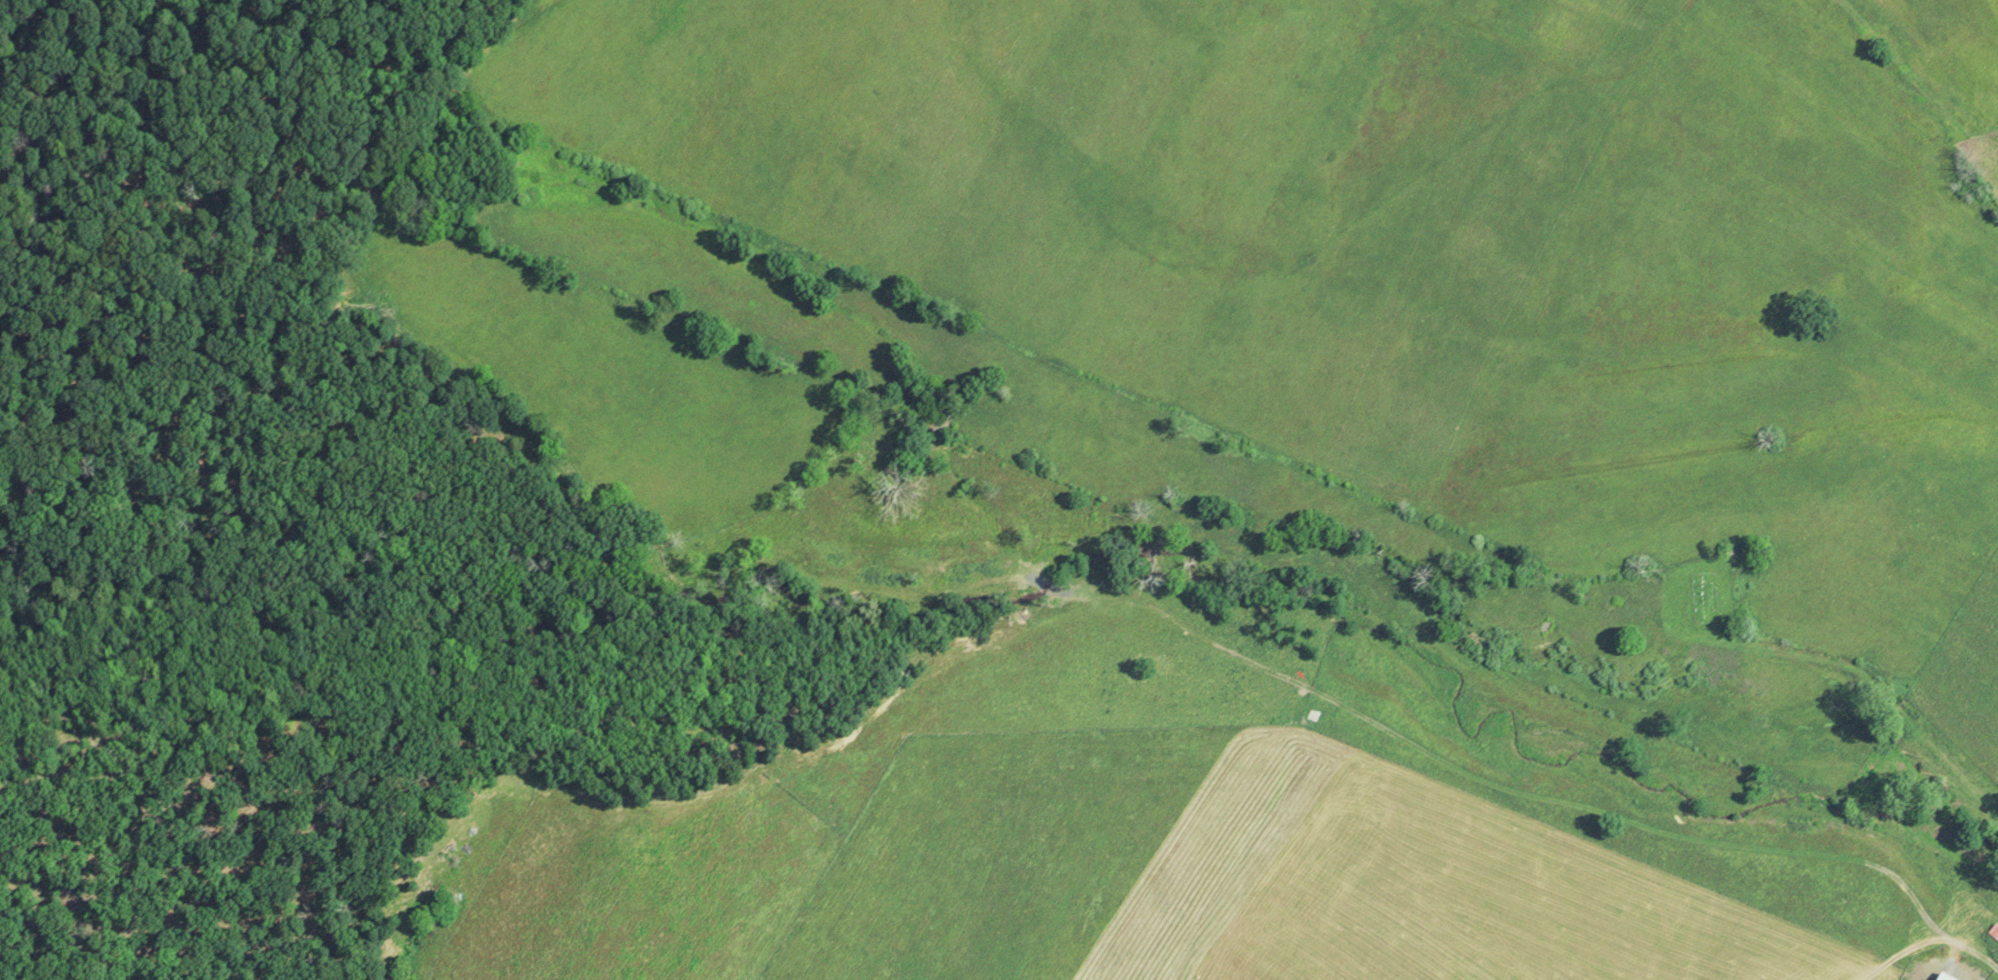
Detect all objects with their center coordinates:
building: (1993, 933)

